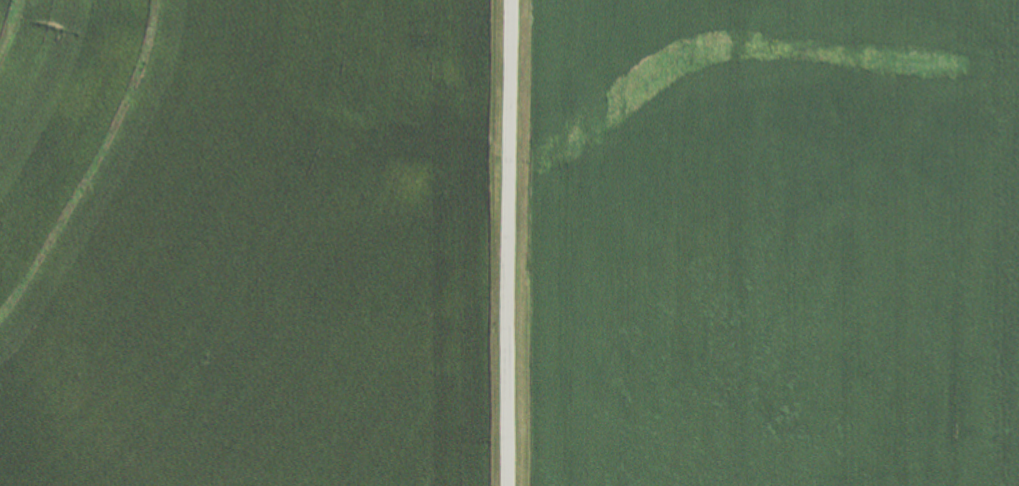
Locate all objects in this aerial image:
road: (511, 243)

